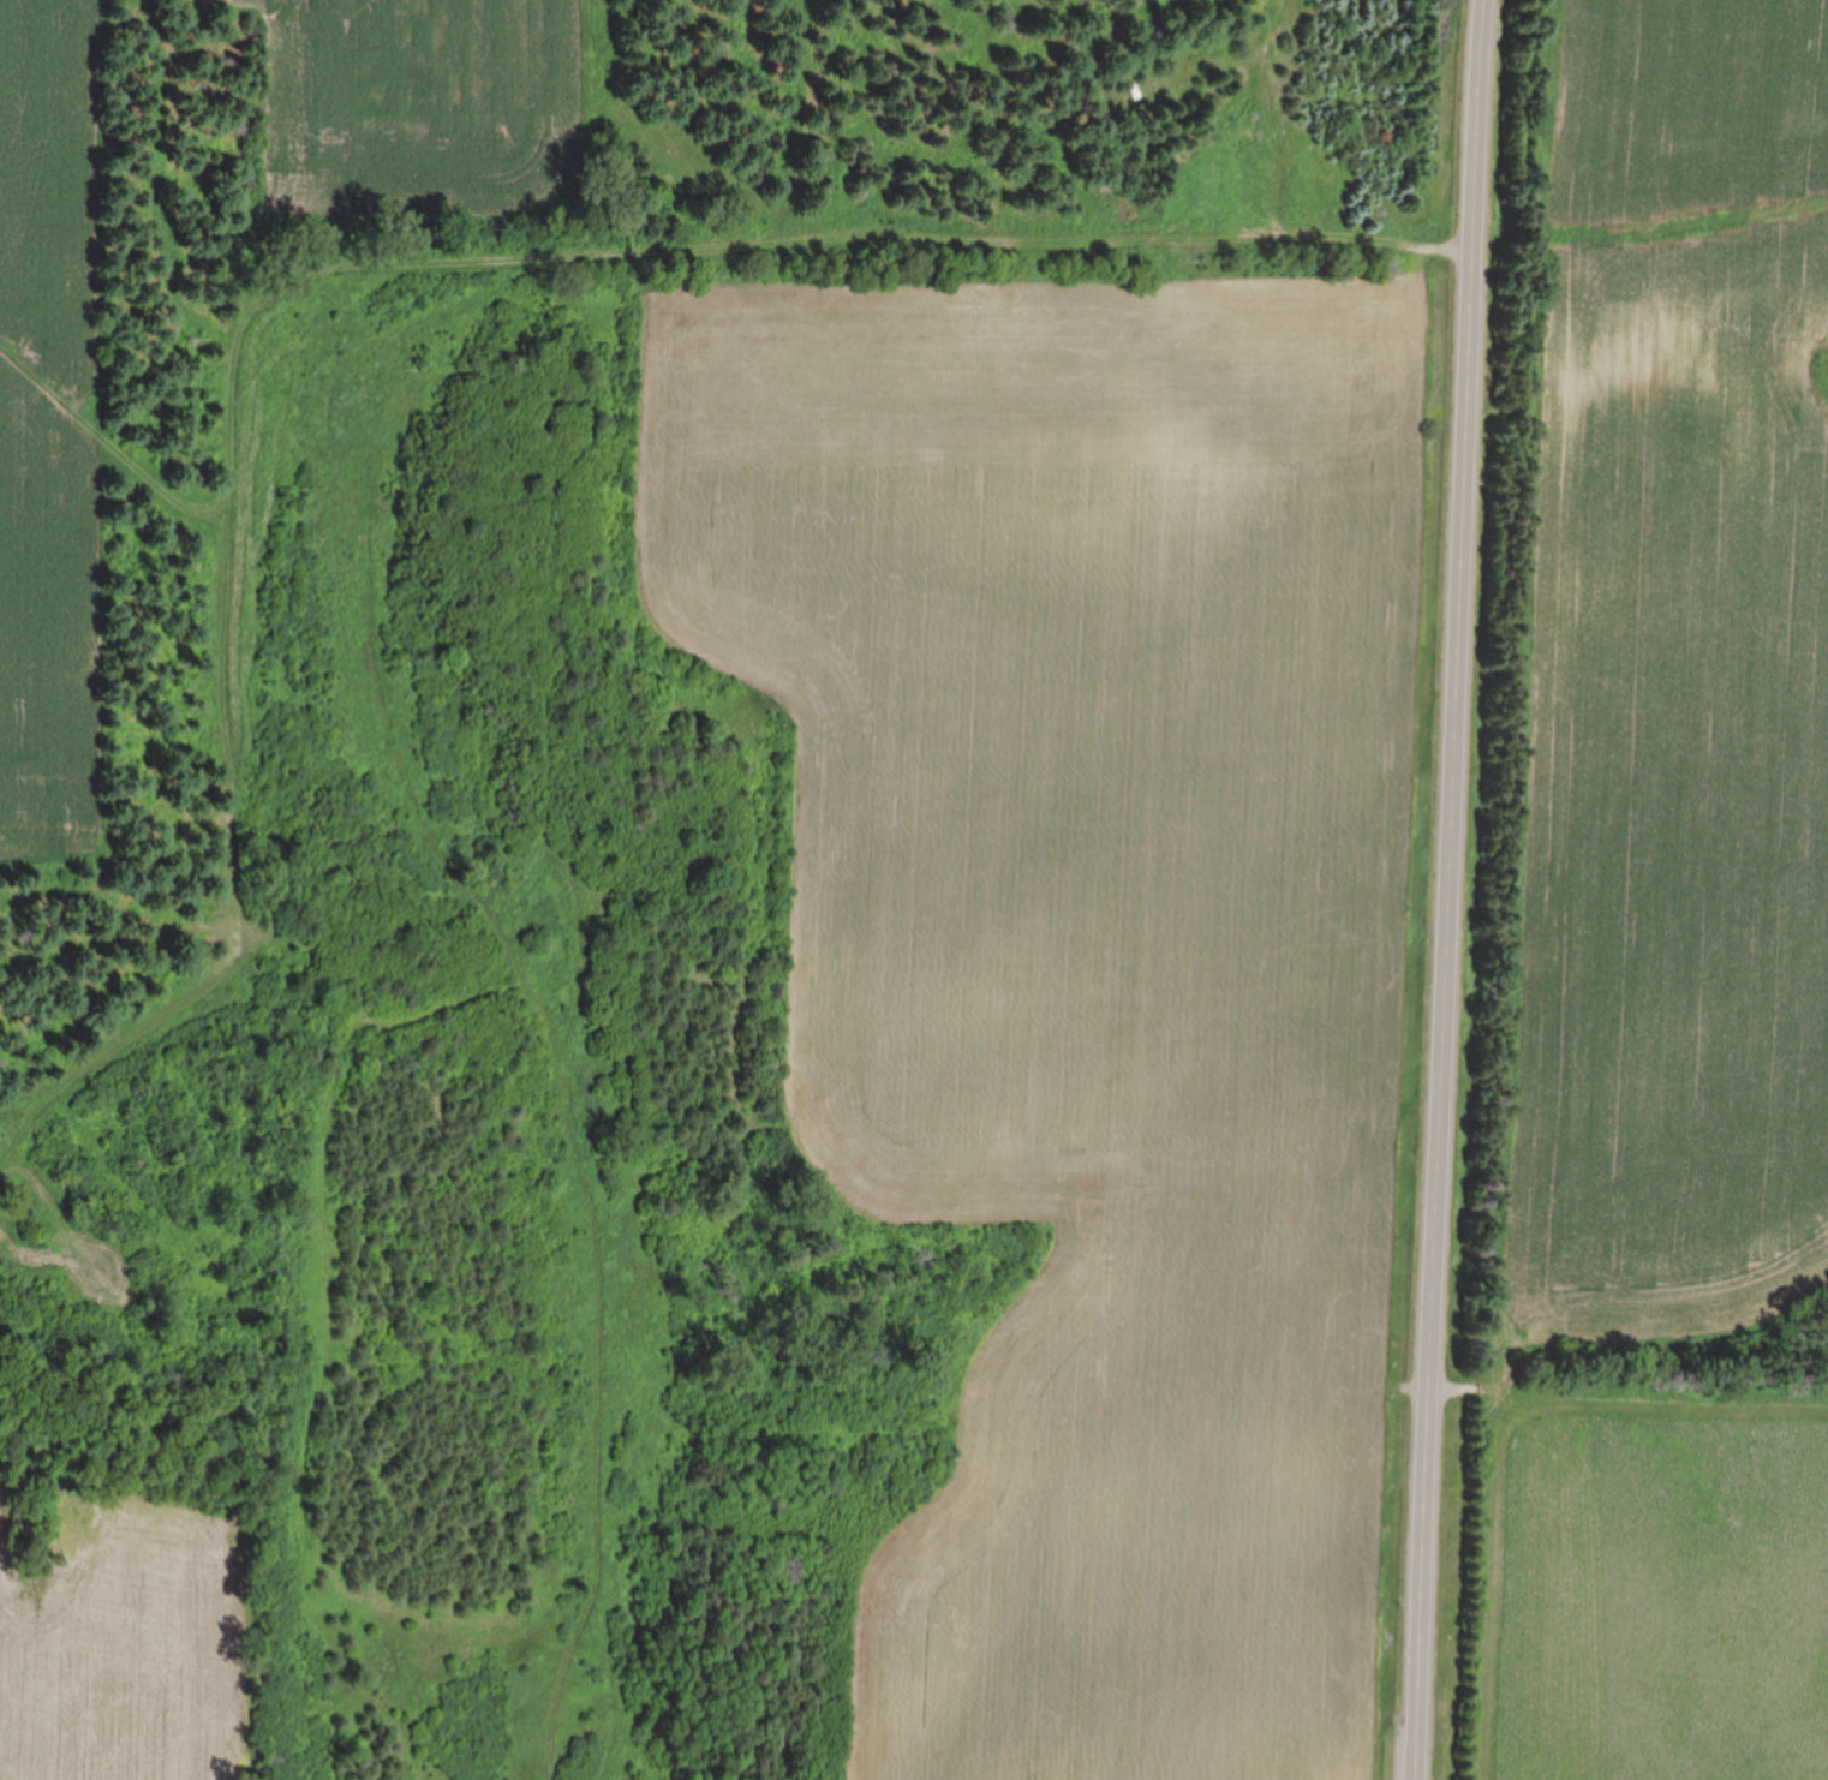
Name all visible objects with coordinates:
road: (1452, 889)
park: (1642, 910)

